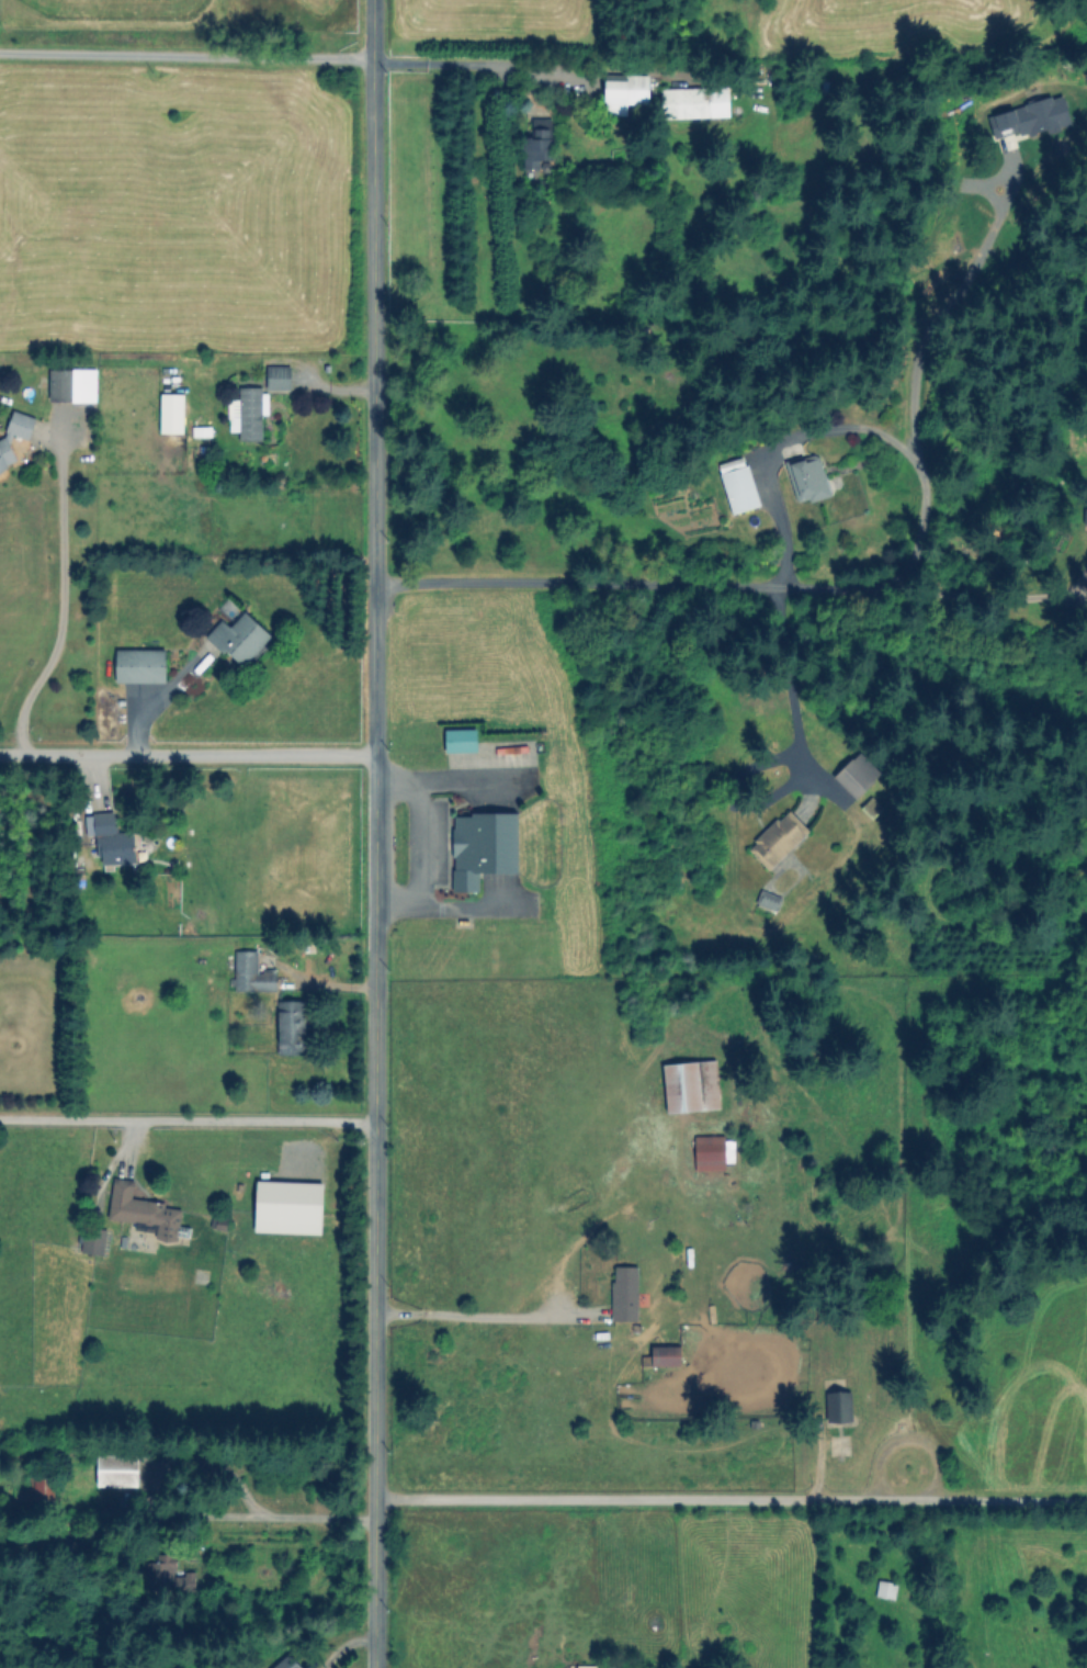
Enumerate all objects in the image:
road: (188, 56)
road: (533, 67)
building: (623, 91)
building: (693, 102)
building: (536, 144)
building: (276, 376)
building: (66, 385)
building: (170, 413)
building: (4, 441)
road: (915, 458)
building: (806, 478)
building: (736, 484)
road: (915, 552)
road: (604, 586)
road: (992, 598)
road: (60, 609)
building: (238, 638)
building: (138, 665)
road: (790, 684)
building: (458, 740)
building: (511, 748)
road: (375, 750)
road: (188, 755)
building: (854, 774)
building: (777, 838)
road: (419, 843)
building: (480, 847)
building: (767, 900)
building: (250, 972)
building: (290, 1026)
building: (689, 1085)
road: (188, 1120)
building: (711, 1151)
building: (287, 1206)
building: (143, 1210)
building: (623, 1293)
road: (472, 1314)
building: (660, 1355)
building: (837, 1406)
building: (115, 1469)
road: (731, 1501)
road: (262, 1514)
building: (173, 1576)
road: (374, 1584)
building: (884, 1589)
road: (344, 1645)
building: (285, 1663)
building: (585, 1666)

